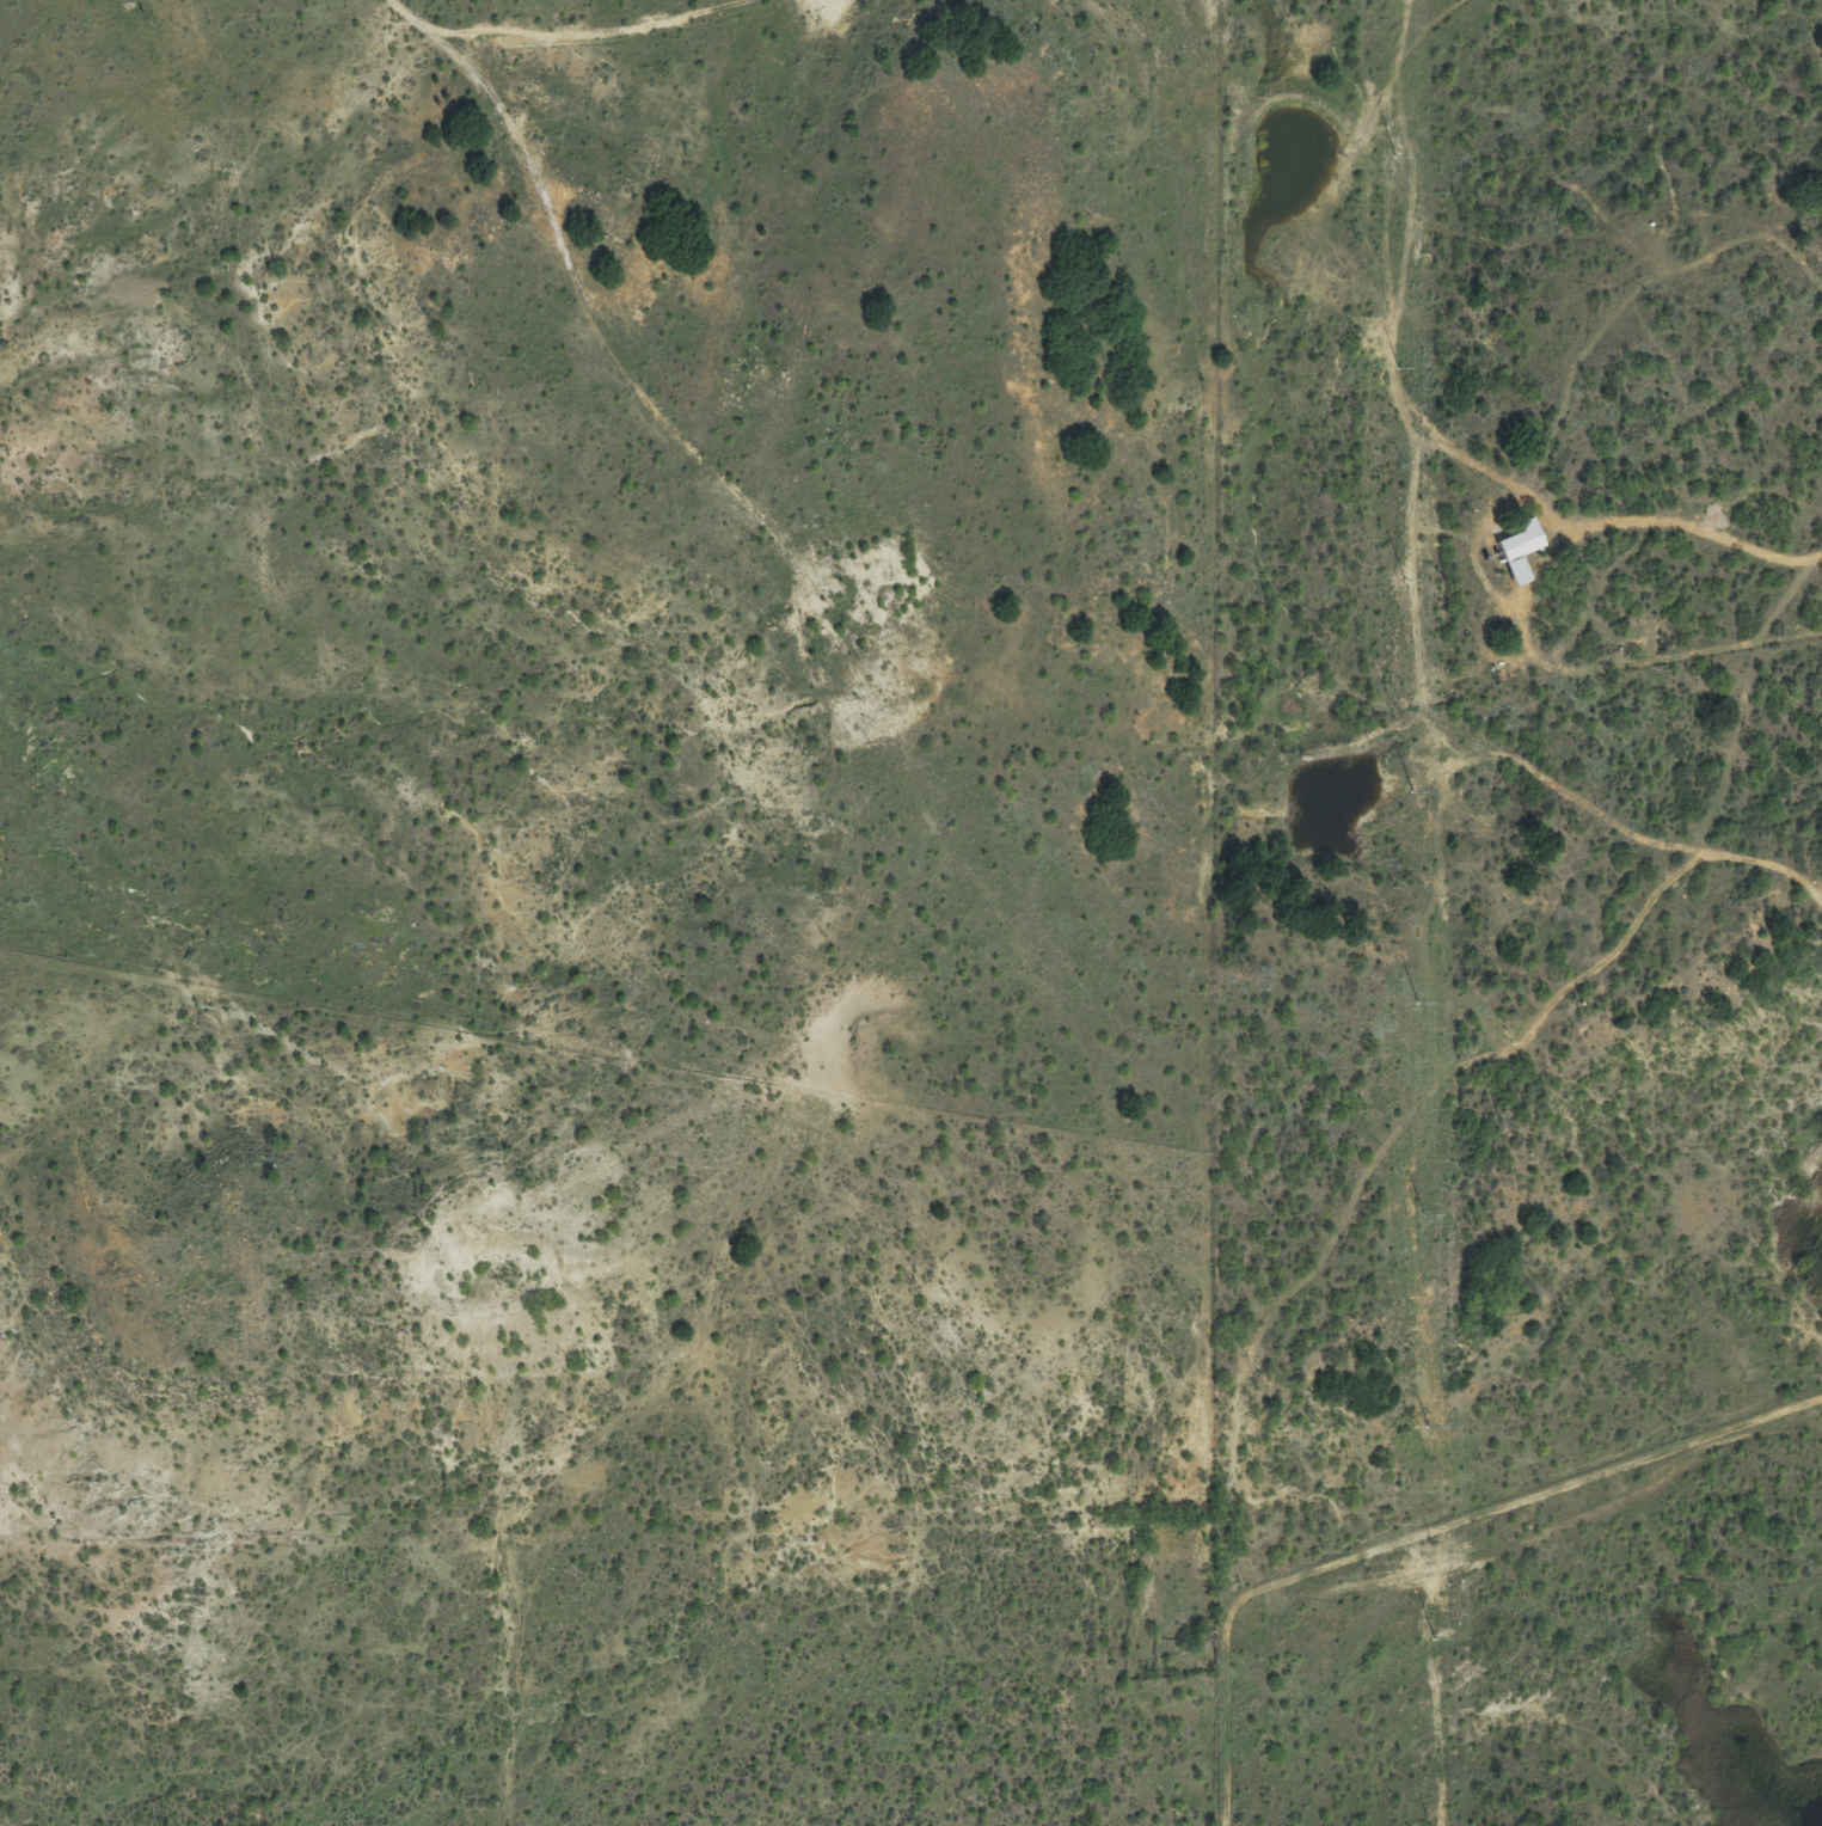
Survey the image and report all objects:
road: (1692, 538)
building: (1514, 560)

